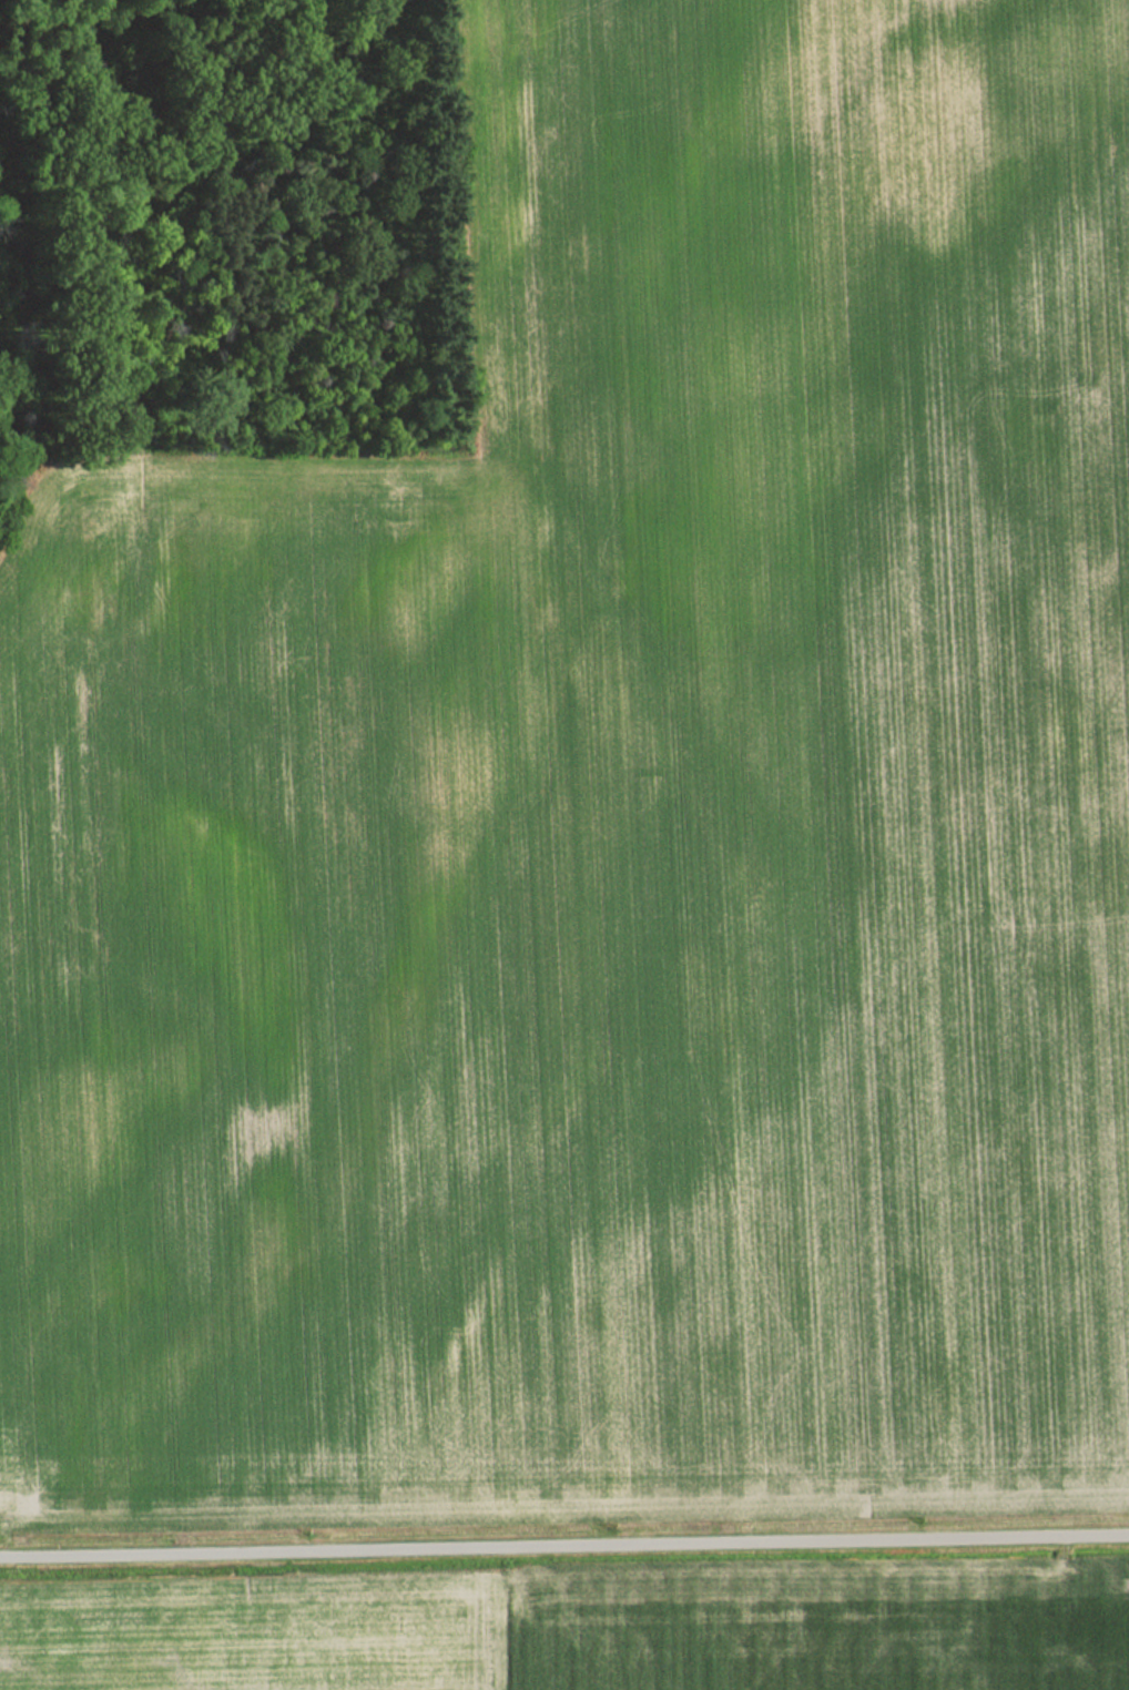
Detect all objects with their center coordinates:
crop: (607, 834)
road: (563, 1547)
crop: (820, 1629)
crop: (253, 1635)

